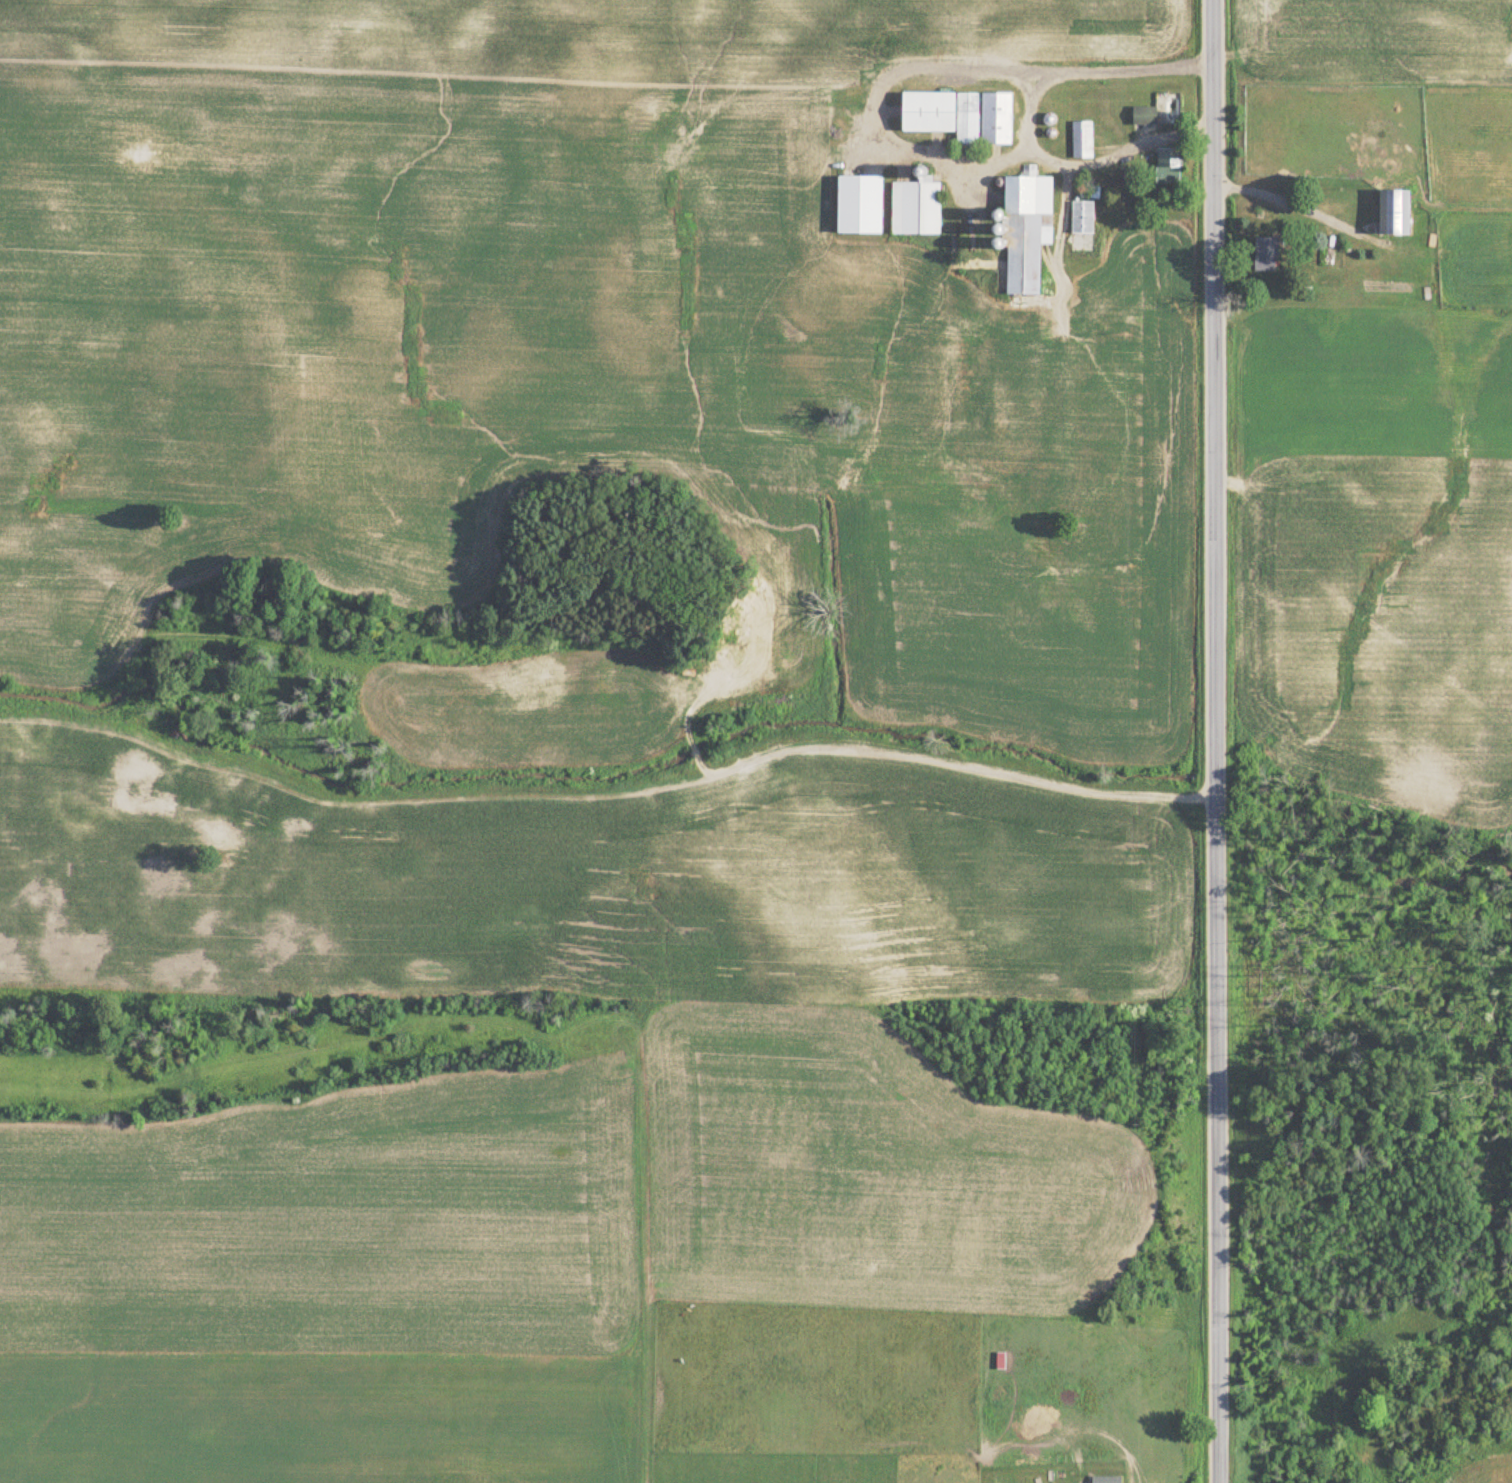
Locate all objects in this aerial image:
building: (1144, 115)
building: (959, 116)
building: (1083, 140)
road: (1105, 160)
building: (1167, 166)
building: (915, 208)
building: (1392, 215)
building: (1082, 218)
building: (1023, 230)
building: (1265, 255)
road: (1216, 741)
building: (1000, 1361)
building: (1106, 1479)

